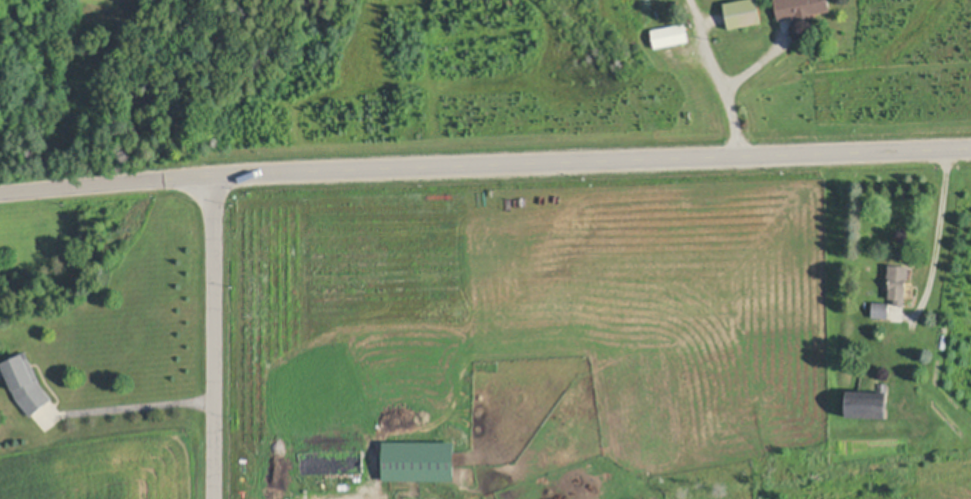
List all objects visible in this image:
building: (800, 8)
building: (742, 12)
building: (670, 34)
road: (722, 77)
road: (485, 164)
road: (940, 218)
building: (898, 281)
building: (881, 309)
road: (214, 337)
building: (27, 380)
building: (869, 403)
building: (424, 462)

